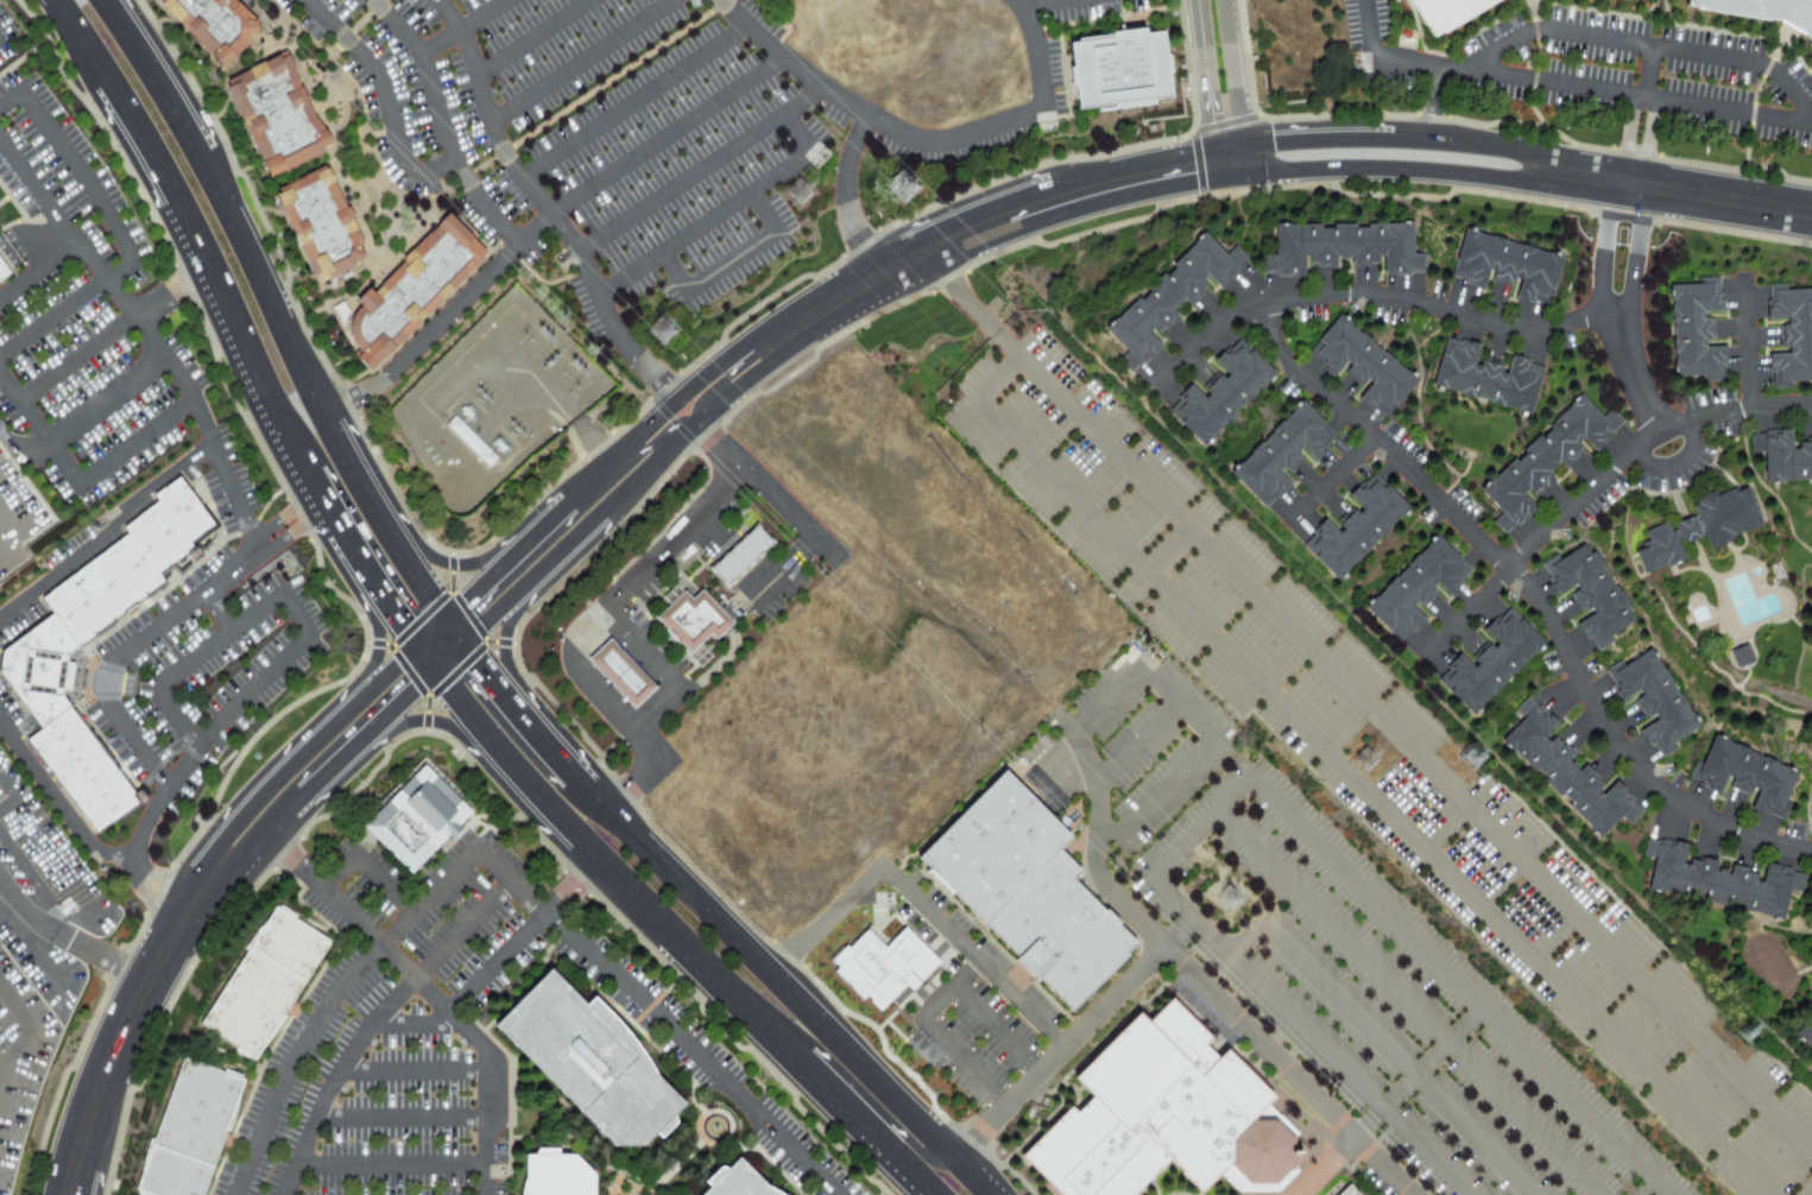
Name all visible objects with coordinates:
road: (1046, 5)
building: (1447, 7)
building: (1787, 7)
building: (214, 25)
road: (460, 29)
road: (1368, 29)
road: (532, 37)
road: (80, 38)
road: (1644, 45)
road: (579, 62)
building: (1118, 70)
road: (1649, 72)
road: (156, 74)
road: (1233, 90)
road: (1206, 91)
road: (1592, 91)
road: (381, 95)
road: (10, 99)
road: (1435, 101)
road: (632, 102)
building: (276, 114)
traffic signals: (1237, 115)
traffic signals: (1211, 122)
road: (440, 124)
road: (1372, 133)
traffic signals: (1273, 137)
road: (1622, 137)
road: (916, 140)
road: (1655, 141)
traffic signals: (1187, 170)
road: (699, 171)
road: (1371, 178)
road: (84, 183)
power tower: (903, 185)
building: (899, 186)
road: (1681, 194)
road: (846, 200)
power tower: (802, 204)
road: (543, 207)
building: (0, 211)
road: (718, 213)
road: (760, 214)
road: (544, 220)
building: (321, 225)
road: (981, 229)
building: (1346, 247)
road: (1605, 252)
road: (1639, 257)
road: (728, 264)
building: (1510, 264)
building: (6, 268)
road: (37, 270)
road: (670, 273)
road: (201, 277)
road: (273, 278)
building: (410, 289)
road: (113, 290)
road: (166, 295)
building: (1174, 297)
road: (971, 306)
road: (310, 314)
road: (52, 316)
building: (1696, 330)
power tower: (663, 333)
road: (1207, 334)
building: (1793, 334)
power tower: (545, 335)
road: (1743, 346)
road: (74, 360)
building: (1366, 365)
power tower: (579, 367)
road: (1301, 373)
building: (1490, 378)
building: (1225, 392)
road: (700, 396)
road: (555, 398)
power substation: (494, 403)
road: (507, 406)
road: (82, 417)
road: (663, 428)
road: (38, 435)
road: (133, 443)
road: (611, 451)
building: (1284, 453)
building: (1783, 456)
building: (1549, 459)
road: (1673, 463)
road: (366, 473)
road: (1327, 478)
road: (637, 488)
road: (772, 495)
road: (233, 498)
road: (1583, 501)
building: (1725, 516)
road: (11, 518)
road: (277, 518)
building: (1360, 526)
road: (323, 527)
building: (1687, 531)
road: (106, 532)
road: (288, 533)
road: (11, 540)
building: (1659, 549)
road: (1169, 551)
building: (741, 555)
road: (455, 561)
road: (425, 569)
road: (782, 569)
building: (1420, 587)
traffic signals: (462, 593)
building: (1590, 593)
road: (215, 609)
road: (1464, 612)
road: (378, 614)
road: (295, 617)
building: (695, 620)
road: (465, 624)
road: (587, 626)
road: (427, 627)
road: (510, 633)
traffic signals: (393, 636)
road: (214, 640)
road: (373, 643)
road: (126, 649)
road: (637, 650)
building: (39, 653)
building: (697, 656)
traffic signals: (488, 657)
building: (1740, 657)
building: (1495, 662)
road: (455, 665)
road: (417, 669)
building: (623, 672)
road: (374, 676)
building: (1654, 698)
traffic signals: (417, 701)
road: (1106, 702)
road: (1179, 703)
road: (649, 709)
road: (534, 713)
road: (400, 715)
road: (456, 720)
road: (178, 721)
road: (428, 727)
road: (201, 740)
road: (1137, 744)
road: (1415, 755)
power tower: (1476, 758)
power tower: (1369, 767)
road: (341, 772)
building: (1570, 772)
road: (1352, 776)
building: (1747, 776)
road: (2, 784)
road: (259, 789)
road: (2, 790)
road: (1157, 799)
road: (303, 809)
road: (536, 811)
building: (1811, 818)
building: (415, 821)
road: (1199, 827)
road: (80, 836)
road: (257, 862)
road: (336, 871)
building: (1723, 880)
road: (383, 885)
building: (1033, 891)
road: (44, 896)
power tower: (1230, 898)
road: (26, 909)
road: (832, 917)
building: (1811, 928)
road: (1245, 940)
road: (380, 944)
road: (973, 957)
road: (102, 959)
building: (882, 967)
road: (491, 970)
road: (1189, 976)
building: (267, 985)
road: (801, 986)
road: (1456, 986)
road: (949, 992)
road: (1407, 1003)
road: (326, 1004)
building: (1811, 1004)
road: (658, 1017)
road: (373, 1022)
road: (25, 1028)
road: (998, 1030)
power tower: (1749, 1033)
road: (745, 1035)
road: (1078, 1035)
building: (1806, 1035)
road: (124, 1036)
road: (1308, 1036)
road: (1397, 1058)
building: (589, 1064)
road: (965, 1064)
road: (411, 1073)
road: (1387, 1101)
road: (869, 1112)
building: (1157, 1112)
road: (400, 1115)
road: (487, 1121)
building: (194, 1131)
road: (391, 1164)
building: (557, 1176)
building: (738, 1182)
road: (1643, 1188)
building: (1352, 1190)

